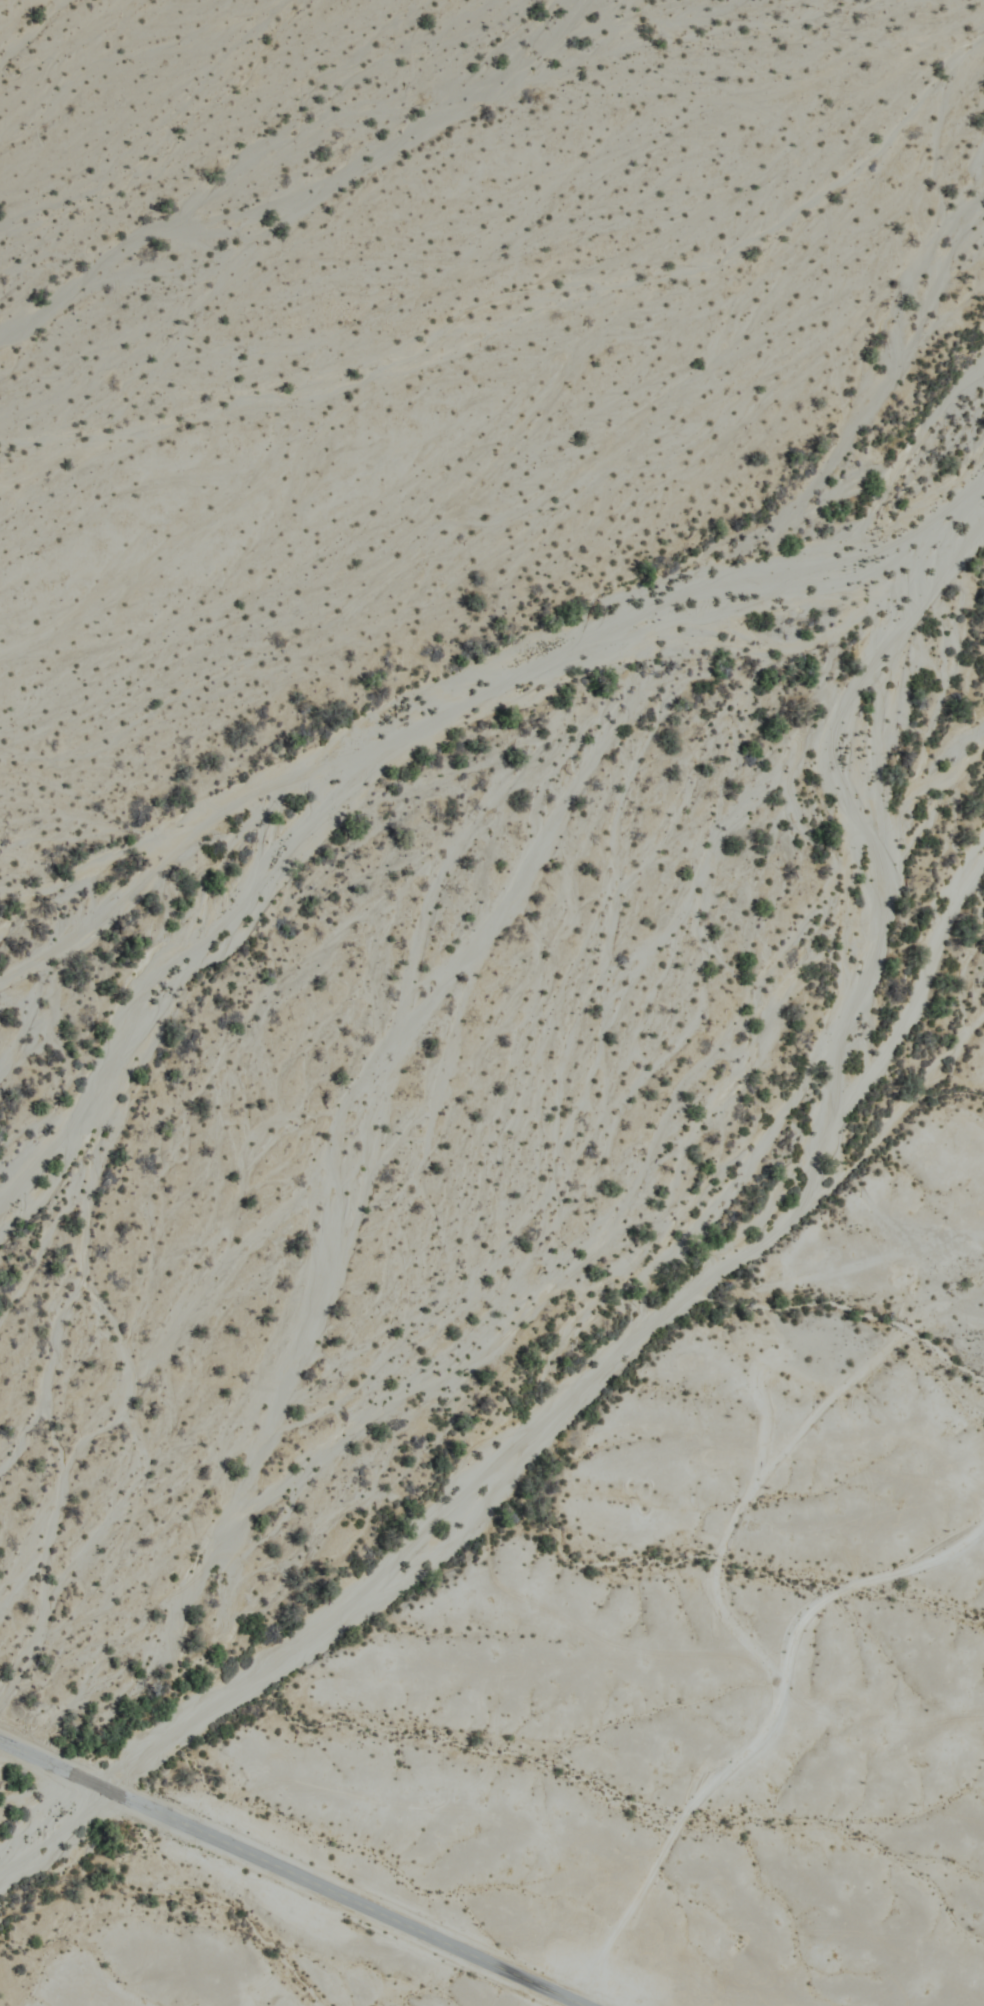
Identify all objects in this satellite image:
road: (766, 1742)
road: (291, 1873)

